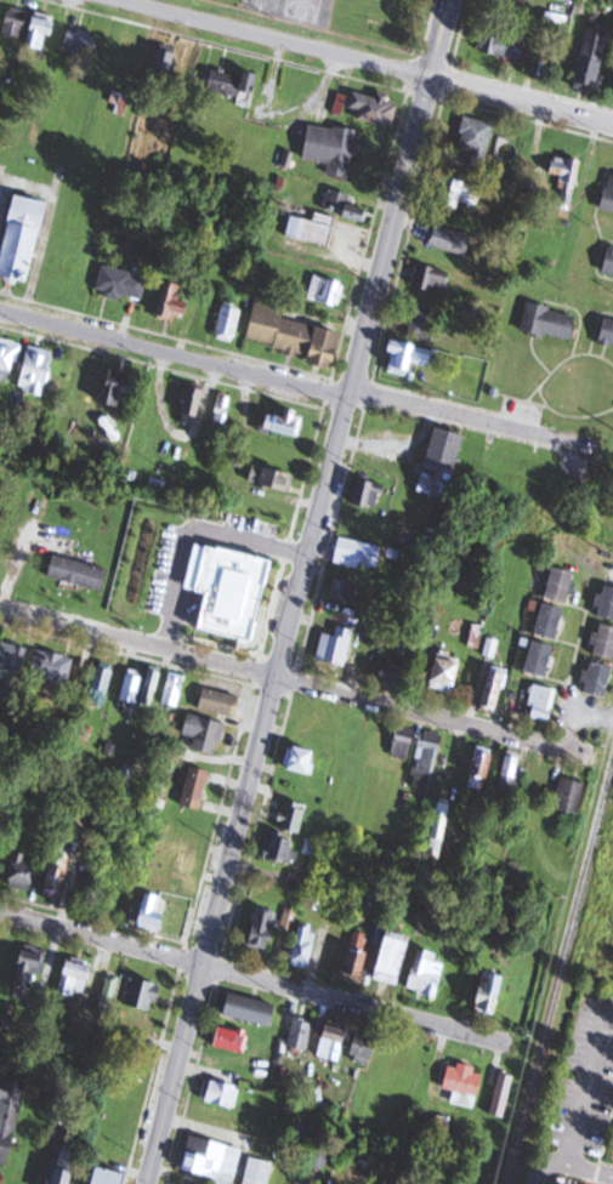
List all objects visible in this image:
park: (262, 5)
park: (303, 8)
building: (16, 24)
building: (41, 32)
building: (81, 44)
building: (503, 47)
building: (115, 57)
road: (369, 62)
building: (591, 62)
building: (165, 68)
building: (234, 84)
building: (375, 109)
building: (476, 146)
building: (334, 149)
building: (566, 176)
building: (466, 194)
building: (609, 195)
building: (345, 207)
building: (313, 229)
building: (24, 240)
building: (452, 241)
building: (609, 263)
building: (431, 279)
building: (123, 284)
building: (324, 291)
building: (174, 303)
building: (228, 323)
building: (550, 323)
building: (424, 324)
building: (293, 336)
building: (607, 336)
road: (175, 348)
building: (408, 358)
building: (7, 359)
building: (38, 370)
building: (120, 387)
building: (193, 406)
building: (222, 409)
building: (285, 422)
road: (471, 423)
building: (441, 471)
building: (272, 478)
building: (369, 493)
building: (259, 531)
road: (195, 535)
building: (358, 553)
building: (79, 571)
building: (240, 577)
building: (561, 584)
building: (344, 590)
building: (154, 592)
road: (300, 592)
building: (606, 602)
building: (222, 621)
building: (550, 621)
building: (0, 637)
road: (140, 639)
building: (605, 641)
building: (13, 656)
building: (540, 659)
building: (52, 666)
building: (396, 668)
building: (445, 672)
building: (598, 679)
building: (101, 687)
building: (152, 688)
building: (174, 689)
building: (494, 689)
building: (131, 691)
building: (220, 702)
building: (541, 702)
road: (433, 715)
building: (312, 719)
building: (205, 733)
building: (403, 742)
building: (426, 759)
building: (301, 761)
building: (481, 770)
building: (510, 773)
building: (195, 789)
building: (571, 796)
building: (294, 816)
building: (438, 829)
building: (280, 847)
building: (192, 858)
building: (59, 871)
building: (23, 872)
building: (299, 882)
building: (176, 883)
building: (152, 912)
building: (182, 921)
building: (261, 929)
building: (305, 945)
building: (2, 946)
building: (359, 955)
building: (393, 957)
building: (30, 968)
building: (427, 973)
road: (255, 974)
railway: (560, 975)
building: (75, 978)
building: (489, 994)
building: (143, 995)
building: (251, 1009)
building: (301, 1034)
building: (231, 1040)
building: (333, 1042)
building: (364, 1048)
road: (600, 1080)
road: (584, 1085)
building: (49, 1086)
building: (462, 1086)
building: (220, 1093)
building: (503, 1094)
building: (8, 1116)
building: (212, 1159)
building: (66, 1166)
road: (547, 1168)
road: (591, 1169)
building: (259, 1172)
building: (109, 1177)

